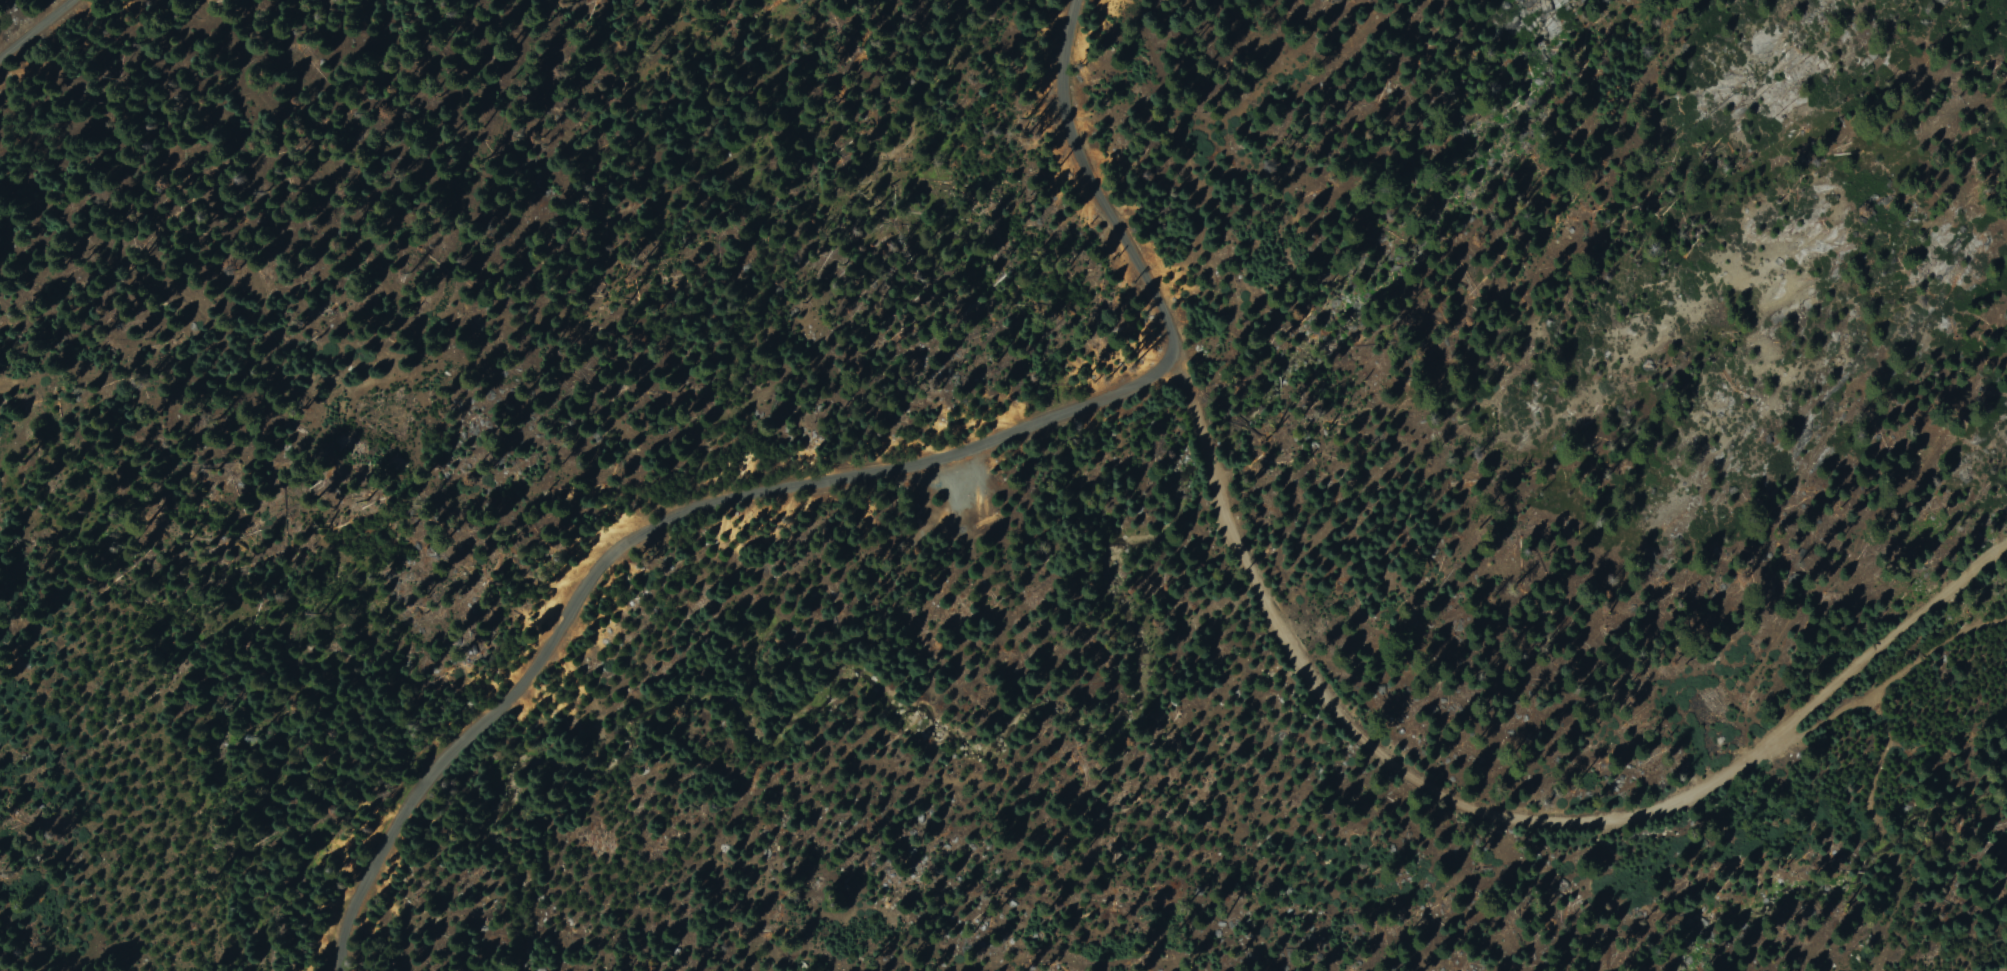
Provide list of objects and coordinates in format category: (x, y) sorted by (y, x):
road: (36, 29)
road: (1098, 195)
road: (638, 530)
road: (1497, 813)

